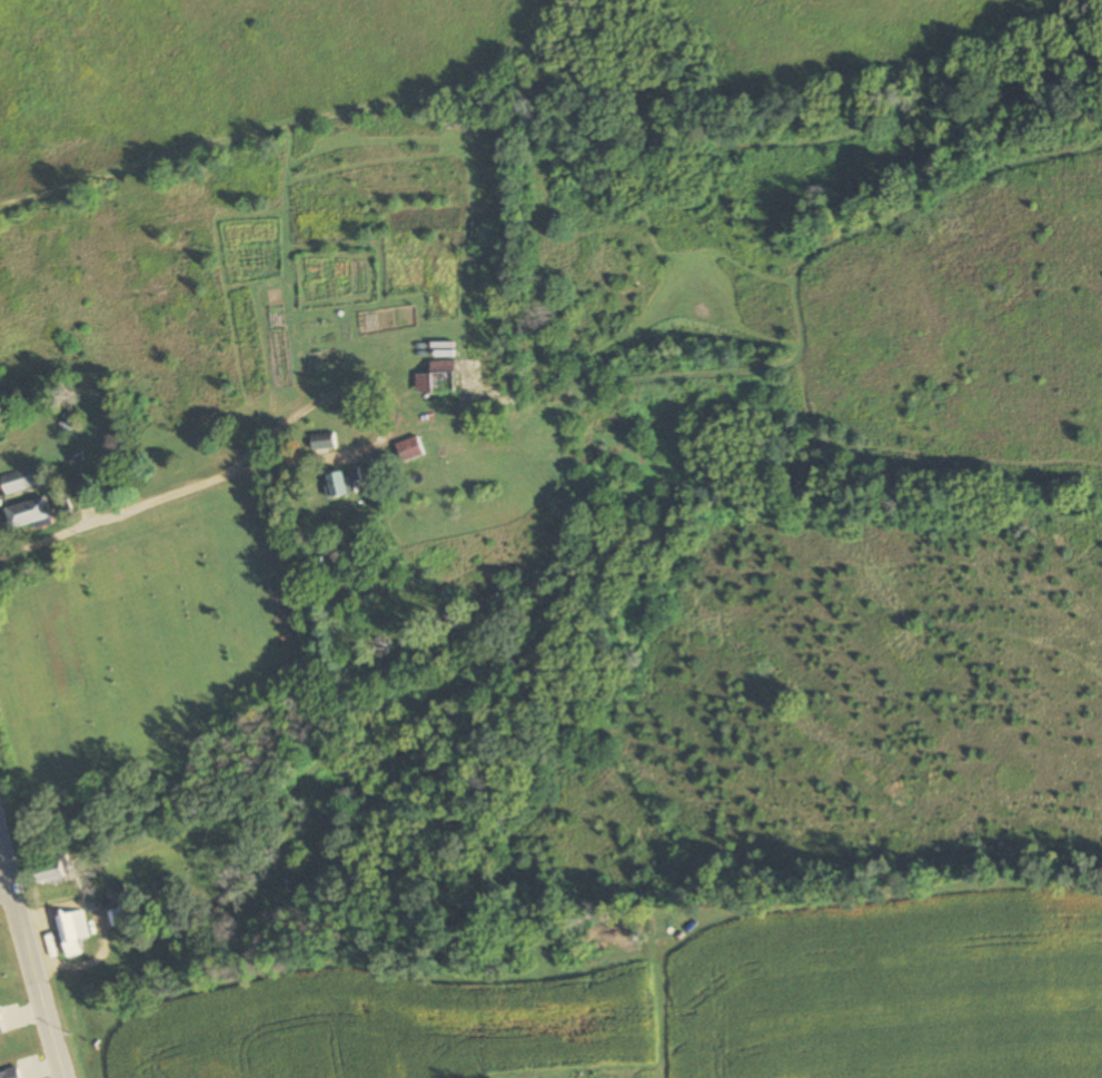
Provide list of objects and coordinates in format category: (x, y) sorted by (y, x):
building: (437, 378)
road: (388, 402)
building: (322, 442)
building: (409, 449)
building: (18, 482)
building: (342, 482)
building: (28, 514)
road: (106, 517)
building: (50, 873)
building: (118, 896)
road: (4, 898)
building: (118, 918)
building: (72, 932)
building: (612, 937)
road: (28, 968)
crop: (683, 1005)

